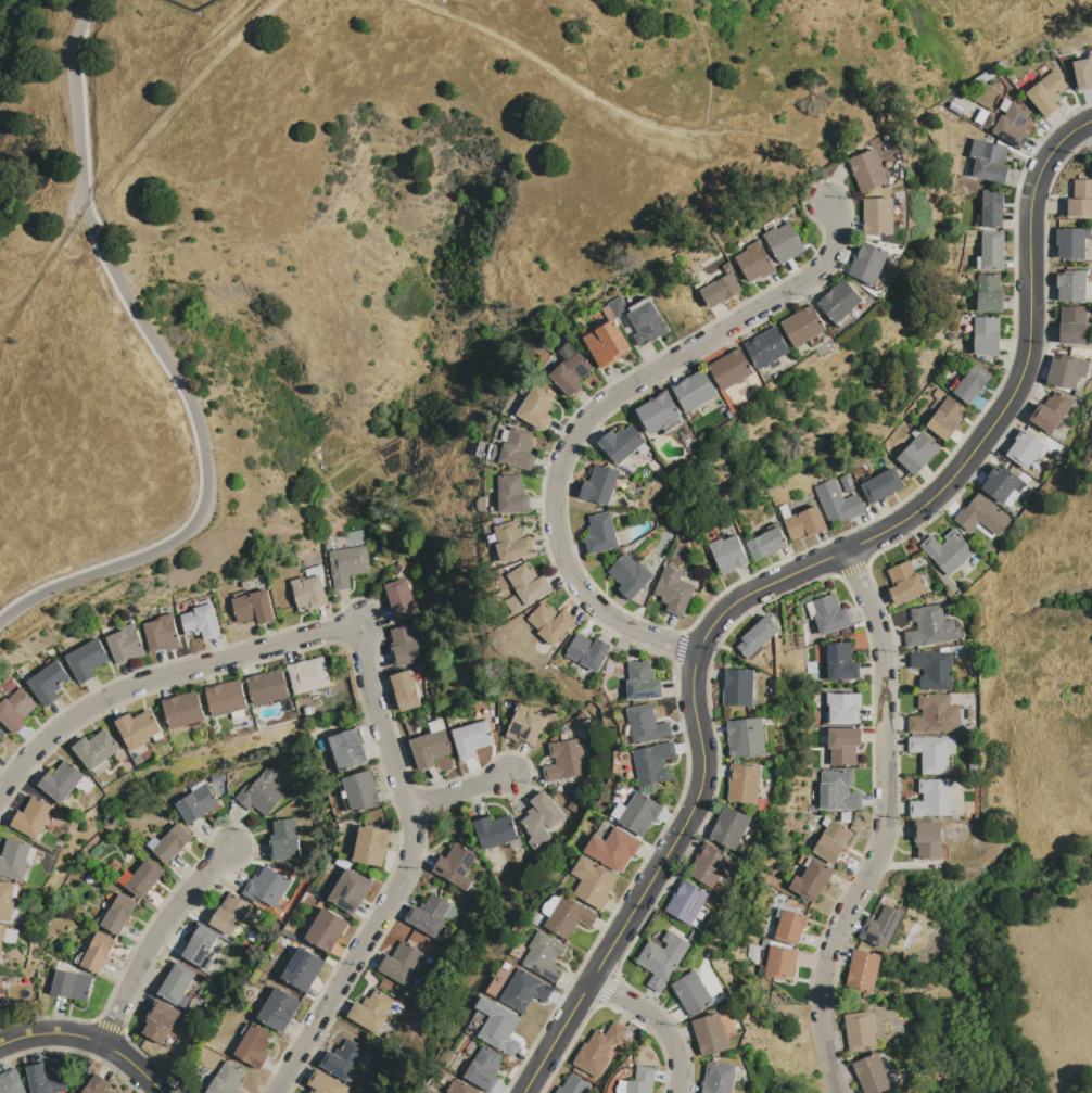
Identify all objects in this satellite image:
road: (87, 7)
road: (708, 65)
building: (1001, 66)
building: (1083, 73)
road: (557, 74)
building: (985, 77)
building: (1047, 92)
road: (177, 103)
building: (1005, 105)
road: (76, 112)
building: (993, 124)
building: (1013, 125)
building: (1091, 155)
building: (991, 163)
building: (867, 170)
building: (1080, 199)
building: (992, 208)
park: (366, 216)
building: (878, 216)
building: (784, 242)
building: (1072, 242)
building: (992, 251)
building: (754, 262)
building: (868, 263)
building: (979, 263)
building: (1070, 285)
building: (720, 290)
building: (989, 294)
building: (840, 301)
building: (640, 319)
building: (1075, 325)
building: (803, 326)
building: (987, 335)
building: (950, 336)
building: (607, 344)
building: (767, 347)
road: (694, 351)
building: (732, 369)
building: (1066, 372)
building: (571, 374)
building: (973, 383)
building: (695, 391)
building: (537, 407)
building: (659, 412)
building: (1052, 412)
building: (945, 419)
building: (505, 436)
building: (622, 443)
building: (643, 448)
building: (483, 450)
building: (519, 450)
building: (1026, 450)
building: (491, 452)
building: (1042, 452)
building: (497, 453)
building: (918, 454)
road: (205, 465)
building: (847, 483)
building: (1001, 484)
building: (600, 485)
building: (883, 485)
building: (512, 495)
building: (837, 503)
building: (784, 511)
building: (982, 514)
building: (804, 523)
building: (601, 534)
building: (512, 543)
building: (766, 544)
building: (948, 551)
building: (728, 554)
building: (346, 564)
building: (396, 570)
building: (313, 571)
building: (630, 576)
road: (782, 581)
building: (904, 583)
building: (526, 588)
building: (674, 590)
building: (309, 593)
building: (404, 599)
building: (253, 607)
road: (606, 607)
building: (811, 610)
building: (830, 614)
building: (201, 622)
building: (551, 623)
building: (930, 627)
building: (162, 633)
building: (758, 636)
building: (125, 645)
building: (405, 646)
building: (68, 648)
road: (252, 652)
building: (588, 652)
building: (87, 660)
building: (841, 662)
building: (810, 668)
building: (934, 670)
building: (308, 674)
building: (48, 682)
building: (642, 682)
building: (268, 687)
building: (738, 687)
building: (406, 690)
building: (226, 699)
building: (843, 708)
building: (183, 709)
building: (16, 710)
building: (308, 710)
building: (931, 714)
building: (954, 714)
building: (646, 725)
building: (436, 726)
building: (524, 726)
building: (138, 728)
building: (2, 734)
building: (747, 736)
building: (472, 738)
building: (322, 744)
building: (843, 745)
building: (430, 748)
building: (97, 749)
building: (347, 750)
building: (932, 752)
building: (564, 760)
building: (652, 763)
building: (61, 781)
building: (744, 783)
building: (194, 784)
building: (85, 785)
building: (262, 791)
building: (358, 791)
building: (577, 791)
building: (837, 791)
building: (293, 793)
road: (464, 793)
building: (932, 799)
building: (196, 803)
building: (762, 804)
building: (573, 805)
building: (618, 811)
building: (639, 813)
building: (33, 817)
building: (541, 819)
road: (885, 822)
building: (729, 827)
building: (495, 831)
building: (972, 835)
building: (929, 839)
building: (284, 840)
building: (831, 840)
building: (152, 842)
building: (172, 843)
building: (370, 846)
building: (613, 849)
building: (31, 855)
building: (14, 859)
building: (456, 865)
building: (709, 865)
building: (125, 878)
building: (144, 878)
building: (812, 880)
building: (593, 884)
building: (266, 888)
building: (350, 890)
building: (8, 900)
building: (686, 902)
building: (551, 905)
building: (119, 914)
building: (230, 914)
building: (429, 915)
building: (570, 917)
building: (789, 926)
building: (881, 927)
building: (327, 930)
building: (447, 933)
building: (12, 937)
road: (157, 938)
building: (2, 940)
building: (201, 944)
building: (98, 953)
building: (763, 954)
building: (546, 955)
road: (359, 957)
building: (662, 959)
building: (401, 962)
building: (778, 963)
building: (303, 969)
building: (863, 970)
building: (504, 980)
building: (72, 984)
building: (177, 984)
building: (525, 991)
building: (691, 993)
building: (3, 996)
building: (279, 1009)
building: (371, 1012)
building: (160, 1021)
road: (653, 1024)
building: (499, 1026)
building: (860, 1031)
building: (710, 1034)
road: (89, 1038)
building: (254, 1045)
building: (598, 1050)
building: (343, 1059)
building: (485, 1069)
building: (872, 1075)
building: (718, 1078)
building: (47, 1079)
building: (227, 1079)
building: (642, 1081)
building: (11, 1082)
building: (327, 1083)
building: (97, 1085)
building: (573, 1085)
building: (621, 1086)
building: (461, 1088)

